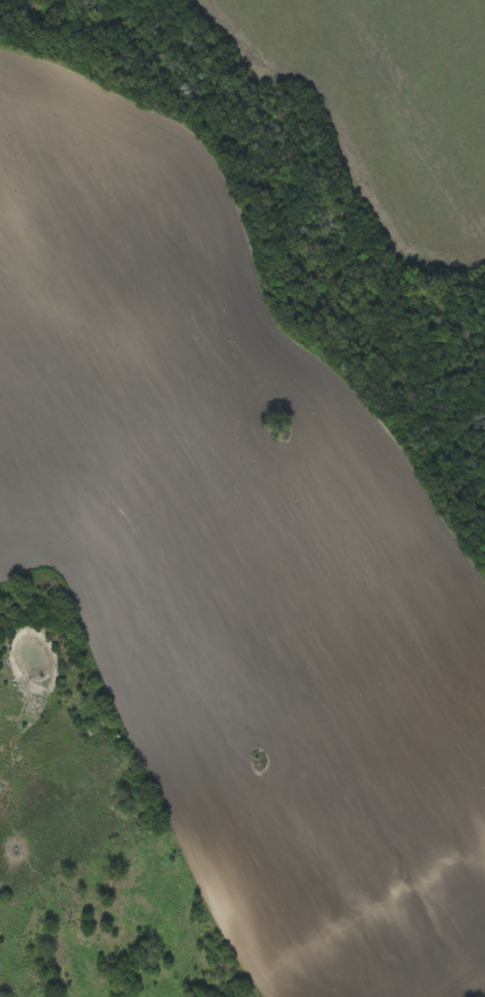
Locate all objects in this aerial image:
road: (366, 917)

